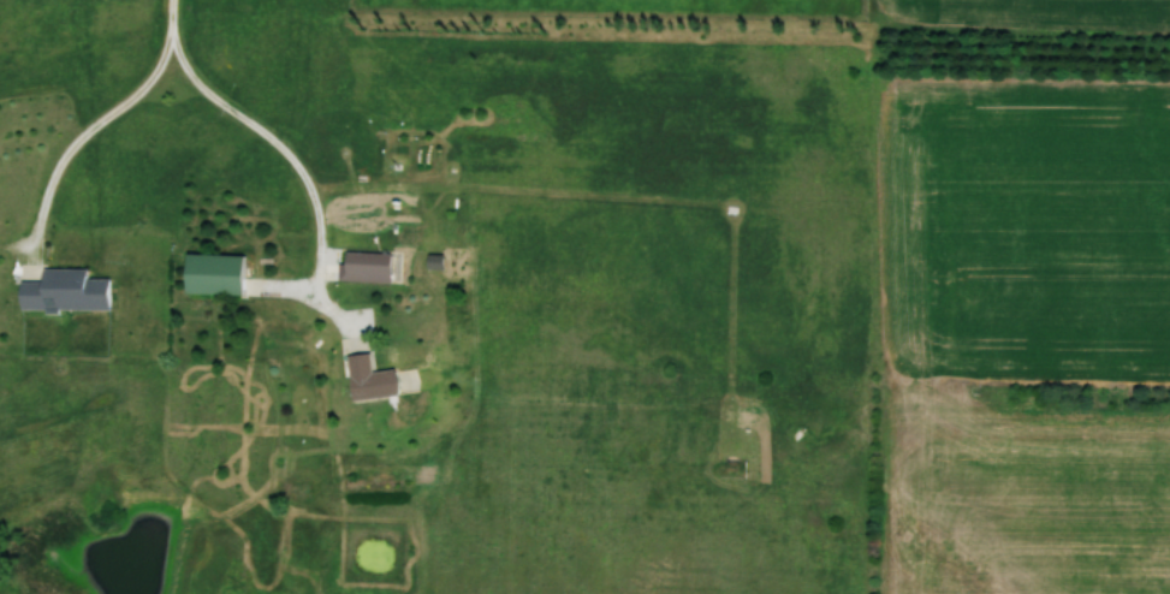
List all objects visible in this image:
road: (101, 125)
road: (301, 170)
building: (213, 275)
building: (64, 292)
building: (369, 380)

